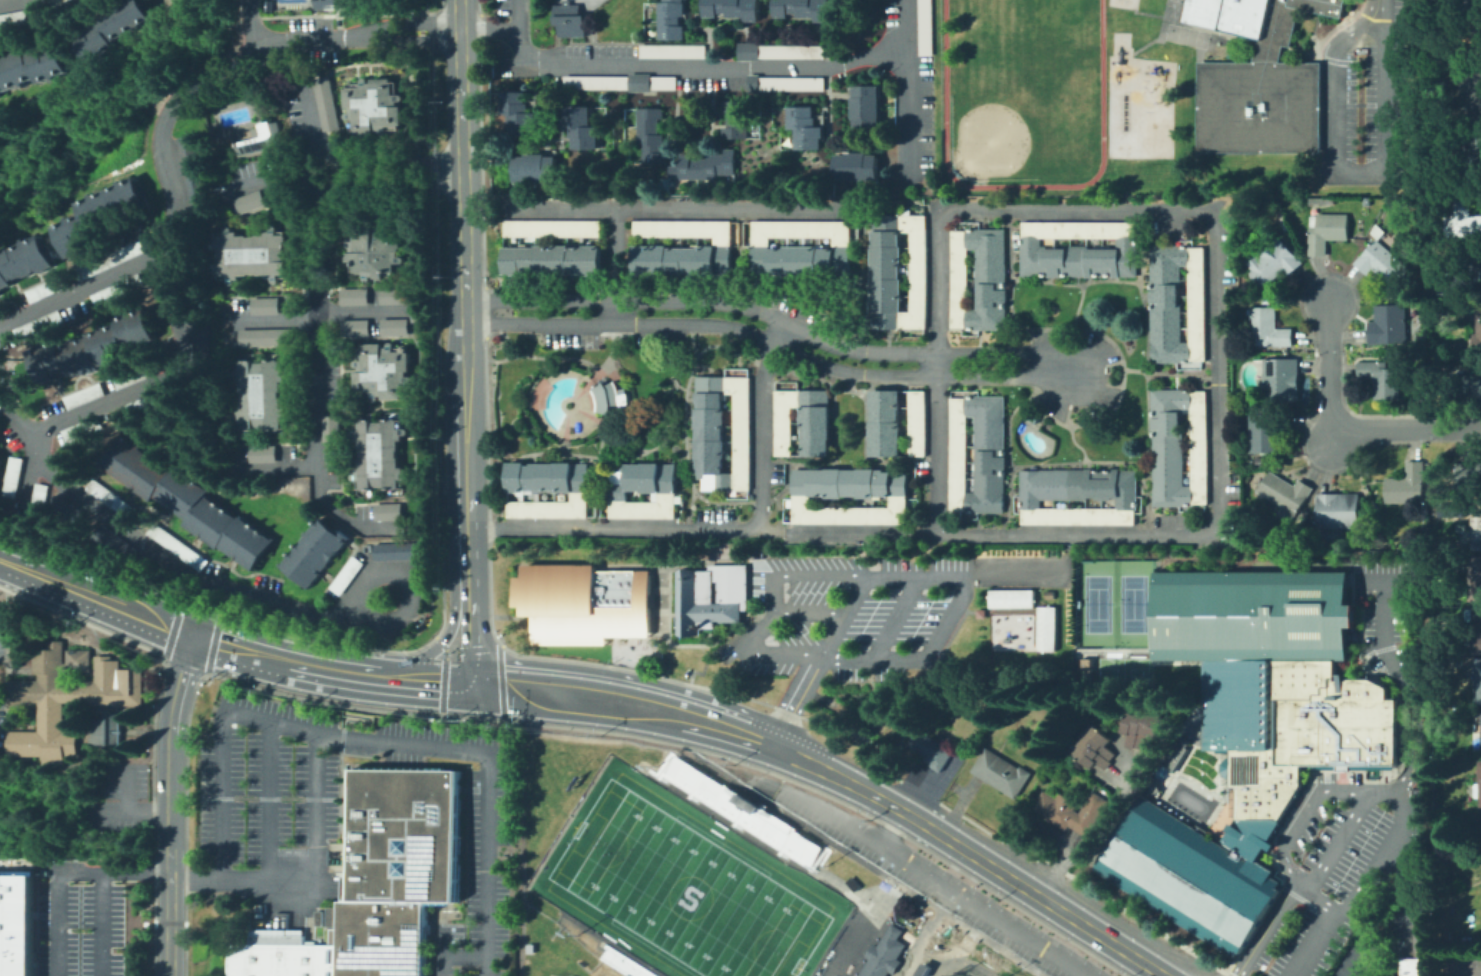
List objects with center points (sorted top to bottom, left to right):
park: (1178, 0)
road: (10, 1)
building: (53, 2)
park: (1174, 2)
building: (334, 3)
building: (266, 4)
building: (1471, 4)
building: (735, 9)
building: (803, 9)
building: (1201, 12)
park: (1171, 14)
building: (11, 15)
building: (1242, 16)
building: (670, 19)
building: (571, 20)
road: (405, 24)
building: (110, 25)
building: (927, 28)
road: (487, 30)
park: (1184, 35)
flagpole: (1311, 37)
road: (281, 39)
road: (406, 40)
park: (1028, 43)
building: (1473, 46)
building: (675, 51)
building: (781, 52)
building: (29, 62)
road: (682, 65)
track: (1100, 75)
building: (622, 83)
building: (784, 83)
road: (903, 90)
building: (1261, 91)
building: (1472, 93)
parking lot: (1363, 97)
building: (325, 101)
park: (1022, 101)
building: (372, 104)
building: (864, 108)
road: (312, 112)
building: (520, 114)
building: (735, 122)
building: (583, 128)
building: (807, 128)
building: (653, 136)
building: (257, 138)
road: (333, 151)
road: (403, 159)
building: (1473, 162)
building: (703, 166)
building: (858, 167)
building: (537, 169)
building: (190, 172)
road: (1350, 175)
road: (403, 179)
road: (261, 180)
building: (667, 187)
building: (247, 199)
building: (1366, 202)
road: (673, 208)
road: (175, 213)
building: (102, 215)
road: (1207, 217)
building: (1463, 221)
road: (460, 222)
building: (555, 229)
building: (1079, 231)
building: (1327, 232)
building: (1377, 232)
building: (697, 238)
building: (250, 251)
building: (373, 251)
building: (114, 256)
building: (1477, 260)
building: (675, 261)
building: (1082, 261)
building: (22, 262)
building: (556, 262)
building: (800, 262)
building: (843, 262)
building: (1273, 263)
building: (1383, 264)
road: (613, 265)
building: (887, 272)
building: (919, 273)
building: (981, 280)
building: (46, 287)
building: (1451, 287)
building: (113, 289)
building: (391, 293)
building: (351, 294)
building: (263, 303)
building: (1179, 305)
road: (762, 312)
building: (1, 313)
road: (320, 313)
building: (412, 314)
building: (391, 324)
building: (352, 325)
building: (1390, 326)
building: (33, 327)
building: (1269, 329)
parking lot: (571, 331)
building: (199, 333)
building: (262, 334)
road: (758, 336)
building: (1478, 339)
building: (92, 346)
road: (1069, 347)
road: (1328, 361)
building: (380, 370)
parking lot: (1074, 375)
building: (129, 376)
road: (154, 379)
building: (1383, 379)
building: (1282, 380)
building: (1467, 385)
road: (314, 392)
building: (258, 393)
building: (81, 395)
building: (611, 398)
building: (144, 402)
building: (919, 424)
building: (887, 425)
building: (327, 426)
building: (0, 428)
building: (80, 429)
road: (1409, 429)
building: (1267, 430)
building: (817, 431)
building: (786, 432)
building: (713, 434)
building: (744, 434)
road: (1336, 435)
building: (1181, 448)
building: (376, 450)
building: (260, 452)
building: (980, 455)
building: (1258, 461)
building: (1, 463)
road: (273, 465)
building: (11, 475)
building: (1469, 475)
building: (541, 477)
building: (582, 479)
building: (643, 479)
building: (670, 482)
road: (23, 483)
building: (851, 484)
building: (900, 485)
building: (1409, 486)
building: (1286, 495)
building: (1080, 497)
building: (109, 498)
building: (184, 500)
road: (466, 501)
building: (38, 502)
building: (68, 509)
building: (385, 510)
building: (1341, 511)
road: (713, 527)
building: (1477, 527)
road: (863, 532)
road: (142, 541)
building: (178, 545)
building: (395, 551)
building: (128, 553)
building: (313, 553)
road: (22, 568)
road: (1011, 571)
road: (835, 574)
building: (344, 575)
building: (1476, 578)
road: (407, 582)
building: (1046, 592)
building: (708, 594)
road: (206, 595)
building: (1010, 598)
building: (583, 602)
park: (1095, 603)
park: (1131, 603)
road: (199, 605)
road: (117, 607)
road: (810, 612)
parking lot: (867, 613)
road: (175, 614)
road: (895, 619)
road: (468, 622)
road: (943, 622)
building: (1478, 627)
road: (214, 628)
building: (1045, 628)
parking lot: (4, 634)
road: (446, 637)
traffic signals: (191, 638)
road: (239, 652)
building: (1085, 667)
park: (1121, 671)
road: (333, 674)
building: (1479, 681)
road: (423, 683)
traffic signals: (469, 687)
building: (63, 697)
road: (578, 698)
building: (1141, 724)
parking lot: (1, 725)
road: (729, 728)
building: (1480, 729)
building: (103, 730)
building: (1250, 735)
road: (380, 743)
building: (1093, 745)
building: (930, 748)
building: (1174, 751)
road: (815, 764)
building: (998, 770)
building: (1478, 785)
road: (125, 788)
road: (1198, 788)
road: (1375, 793)
parking lot: (122, 801)
road: (267, 803)
parking lot: (269, 804)
road: (171, 805)
building: (1068, 808)
parking lot: (1354, 809)
road: (132, 811)
road: (1107, 818)
road: (922, 822)
building: (1480, 826)
road: (888, 827)
road: (1336, 843)
road: (1062, 855)
road: (68, 876)
stadium: (692, 878)
road: (313, 879)
building: (374, 883)
road: (940, 884)
park: (686, 891)
road: (1359, 891)
road: (1313, 897)
parking lot: (965, 901)
building: (905, 910)
building: (329, 915)
building: (317, 916)
parking lot: (80, 918)
road: (1073, 919)
building: (15, 924)
road: (88, 926)
parking lot: (1400, 928)
road: (925, 932)
road: (1401, 941)
building: (529, 949)
road: (440, 952)
building: (882, 953)
road: (462, 955)
road: (1344, 956)
parking lot: (1356, 956)
building: (1414, 957)
parking lot: (1462, 966)
building: (920, 970)
park: (957, 974)

